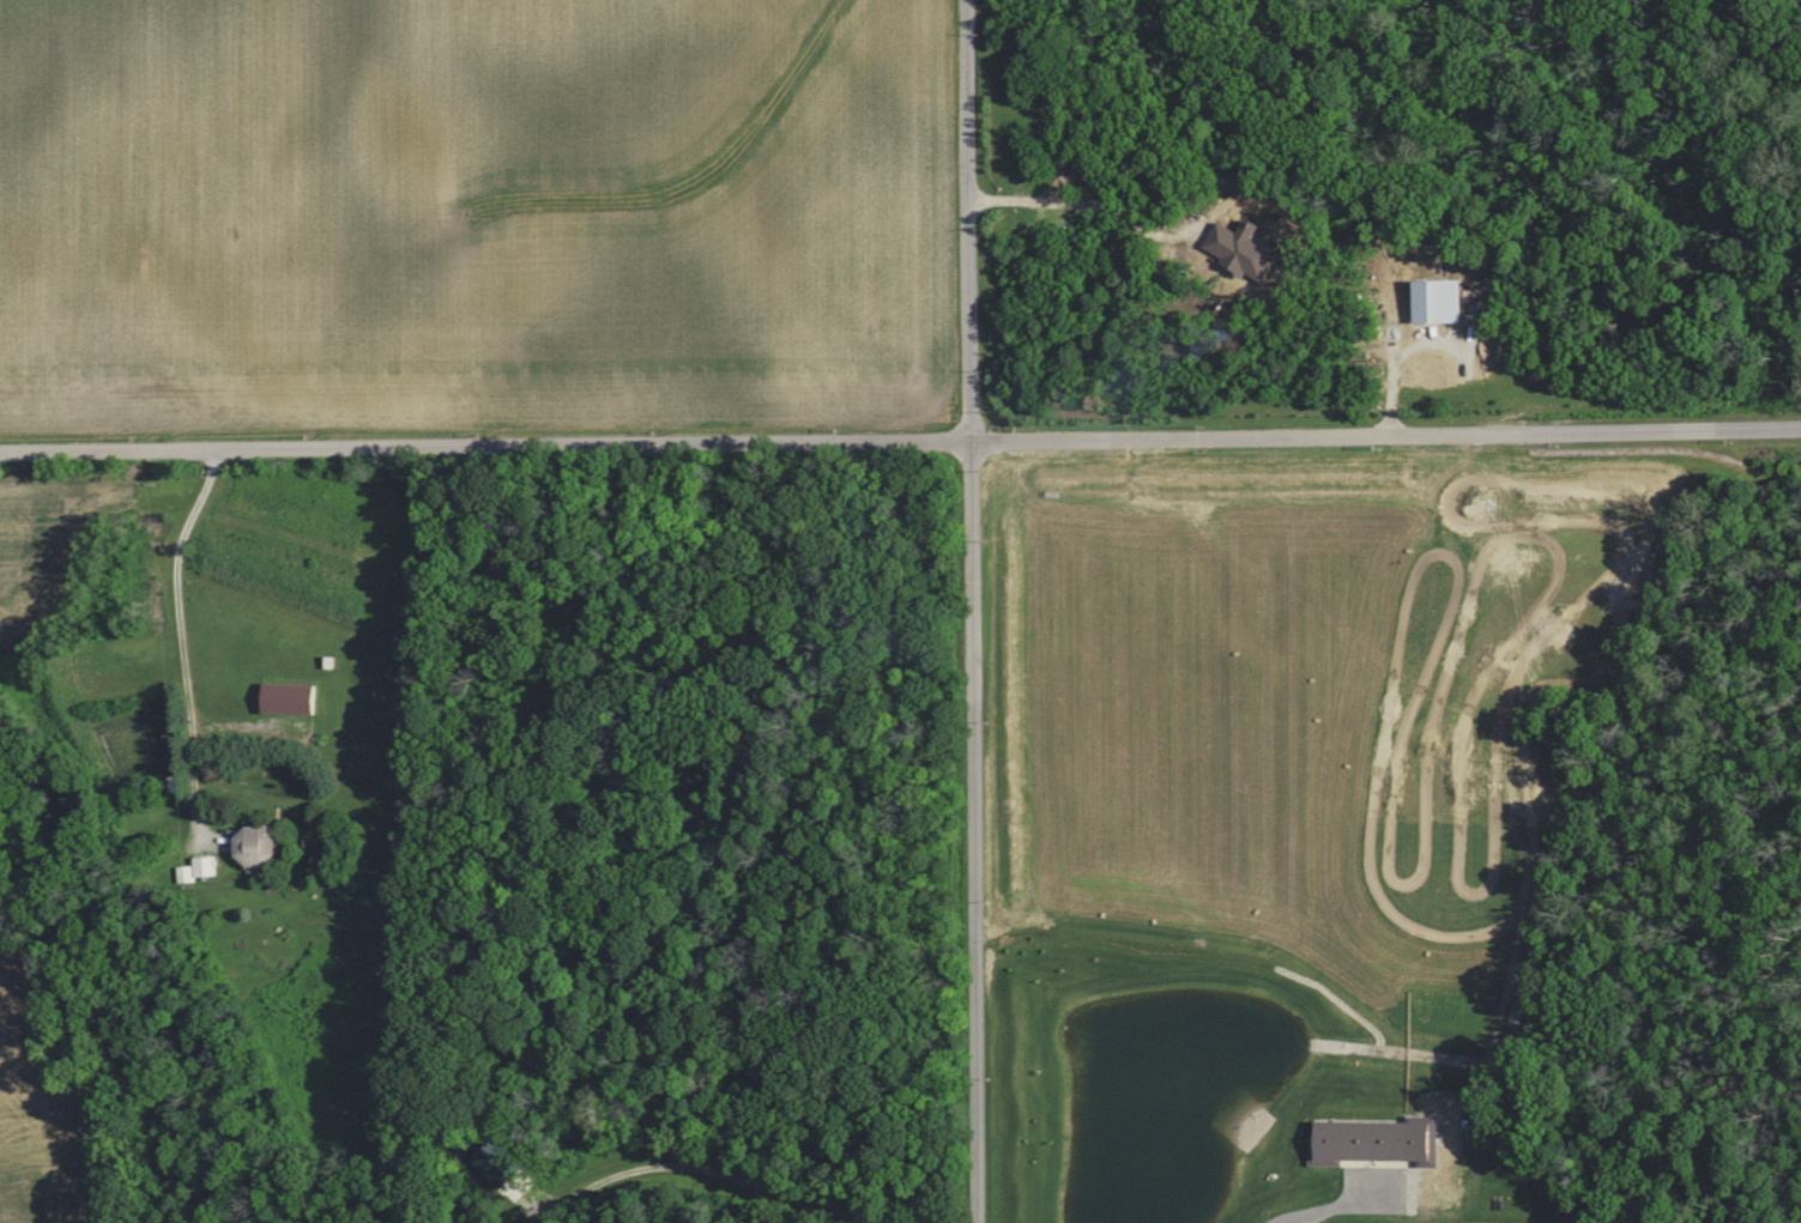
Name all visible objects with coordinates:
road: (1093, 210)
road: (900, 426)
road: (987, 611)
road: (183, 635)
building: (295, 698)
building: (260, 846)
building: (198, 870)
building: (1354, 1142)
road: (699, 1164)
building: (500, 1166)
road: (1301, 1192)

